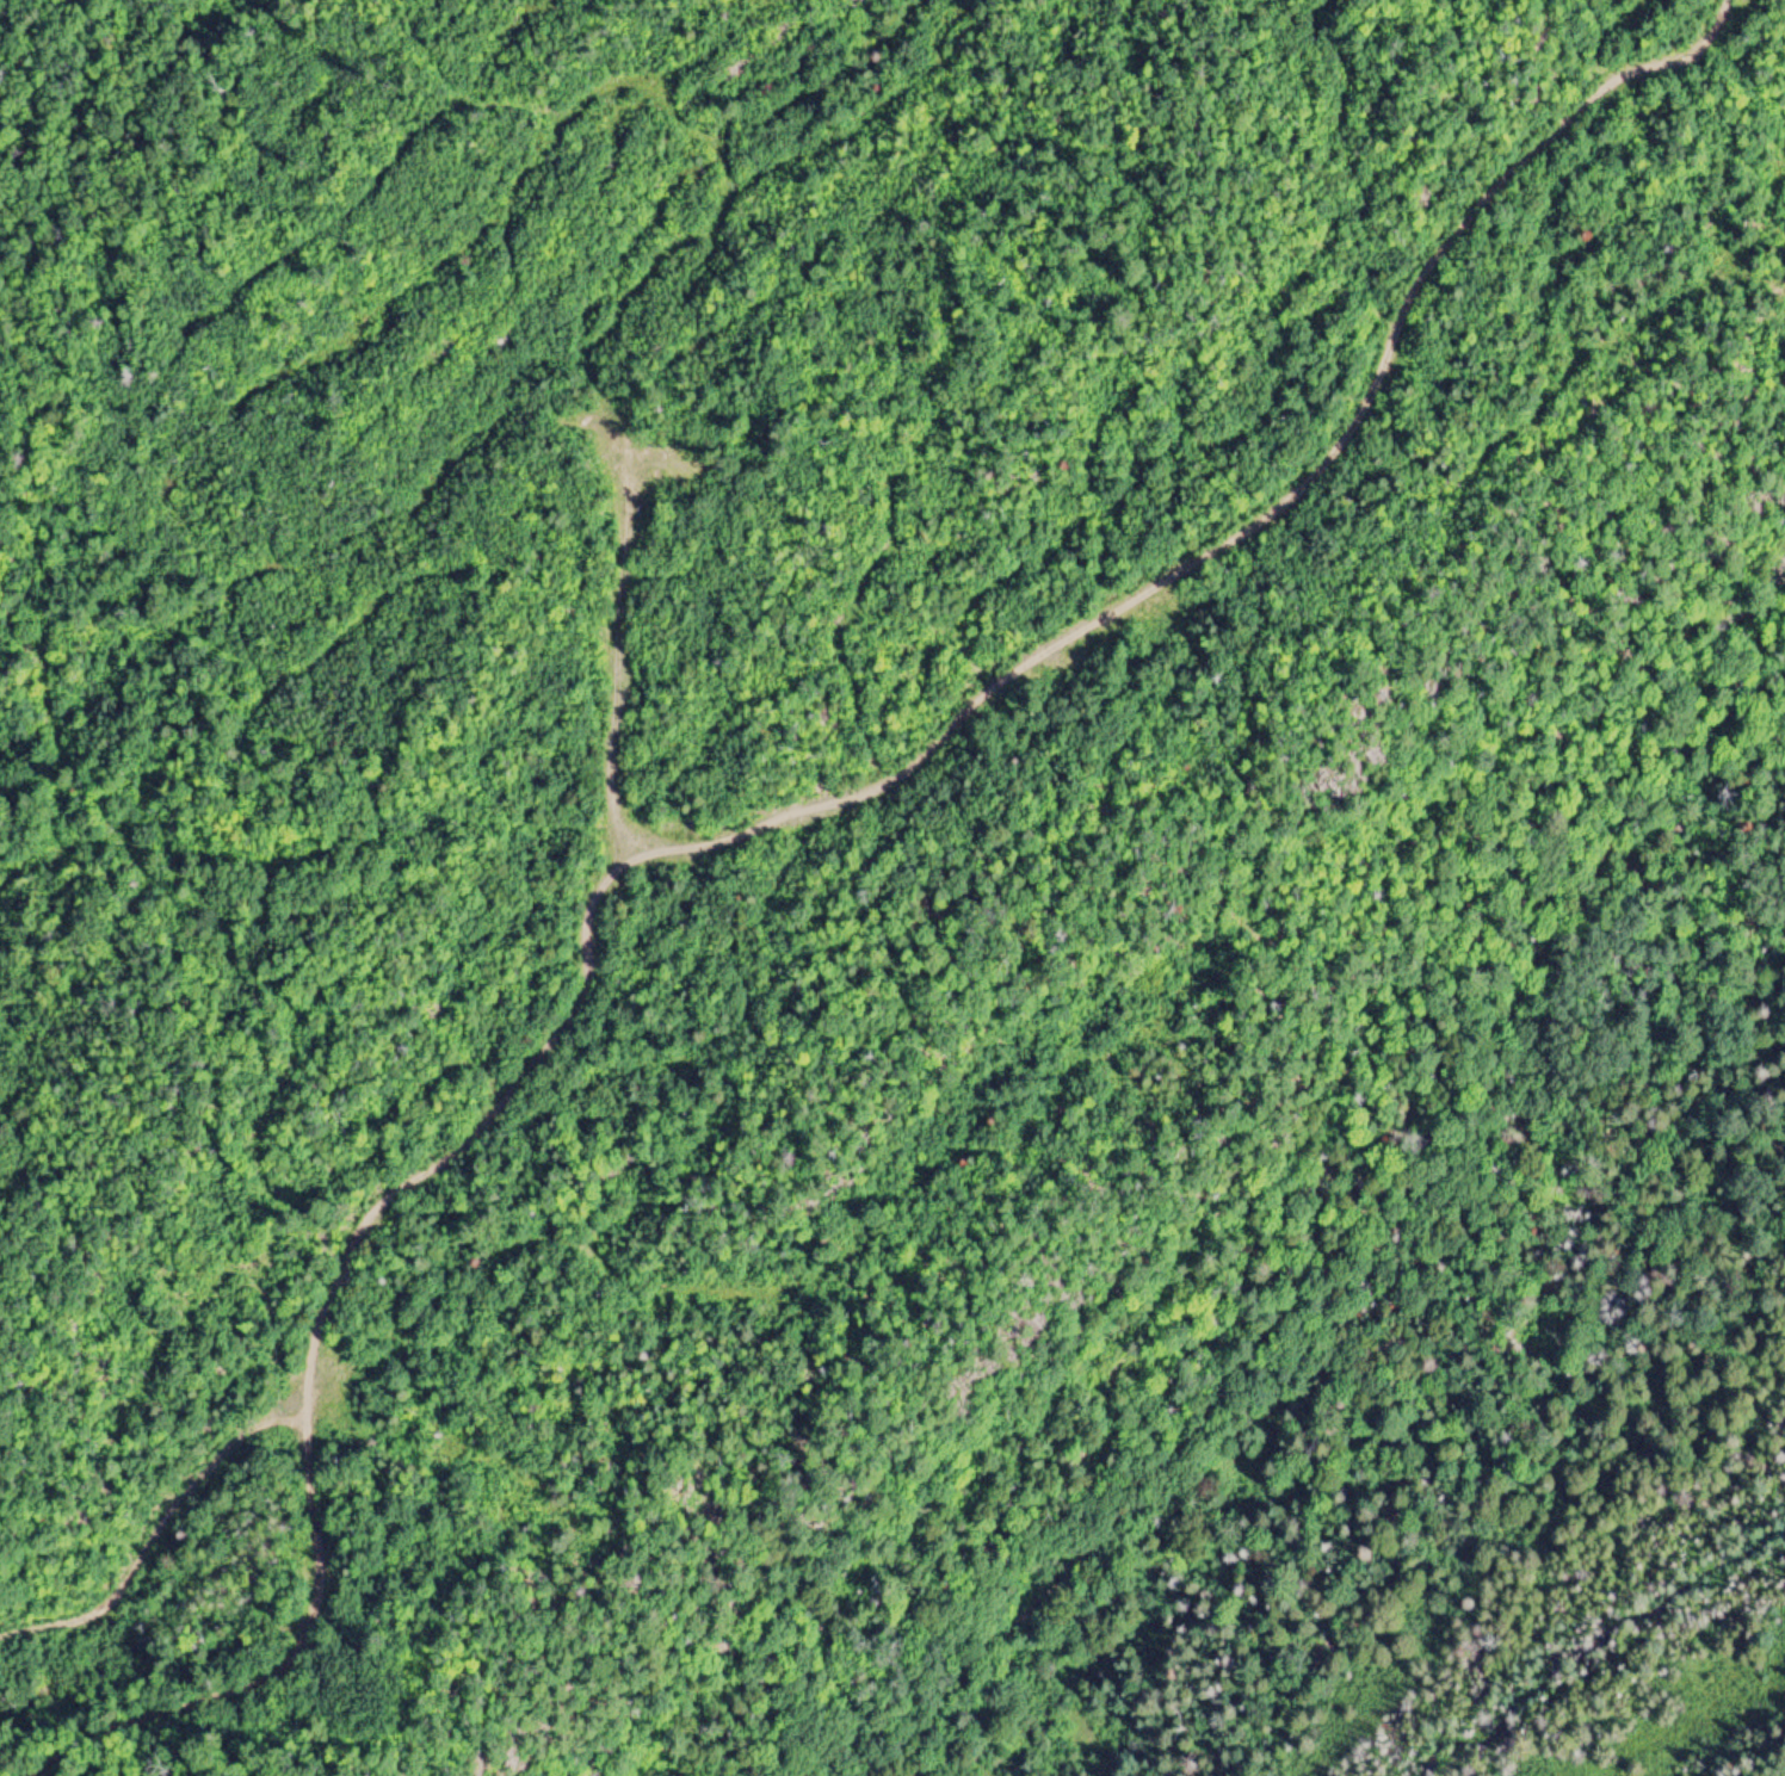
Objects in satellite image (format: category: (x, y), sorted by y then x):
road: (809, 815)
road: (1359, 1223)
river: (1622, 1660)

